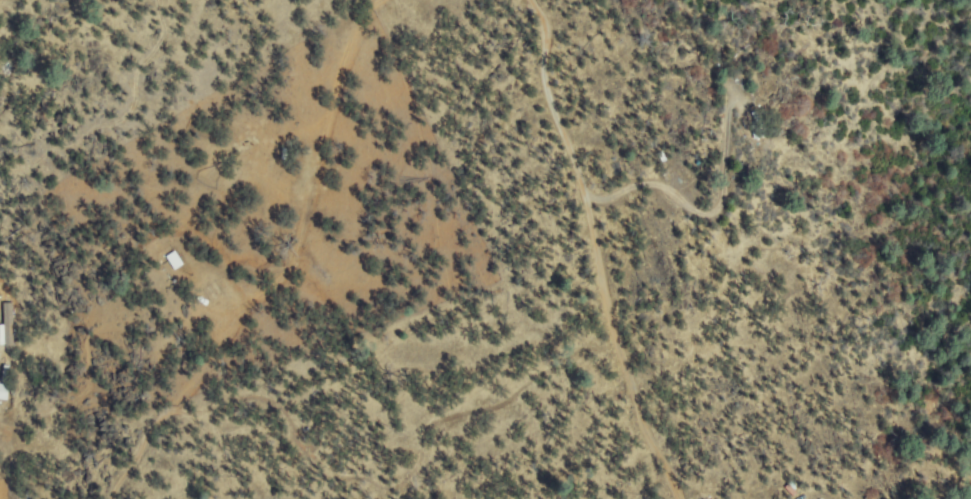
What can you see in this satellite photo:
building: (174, 259)
building: (7, 327)
building: (5, 373)
building: (3, 392)
building: (790, 490)

